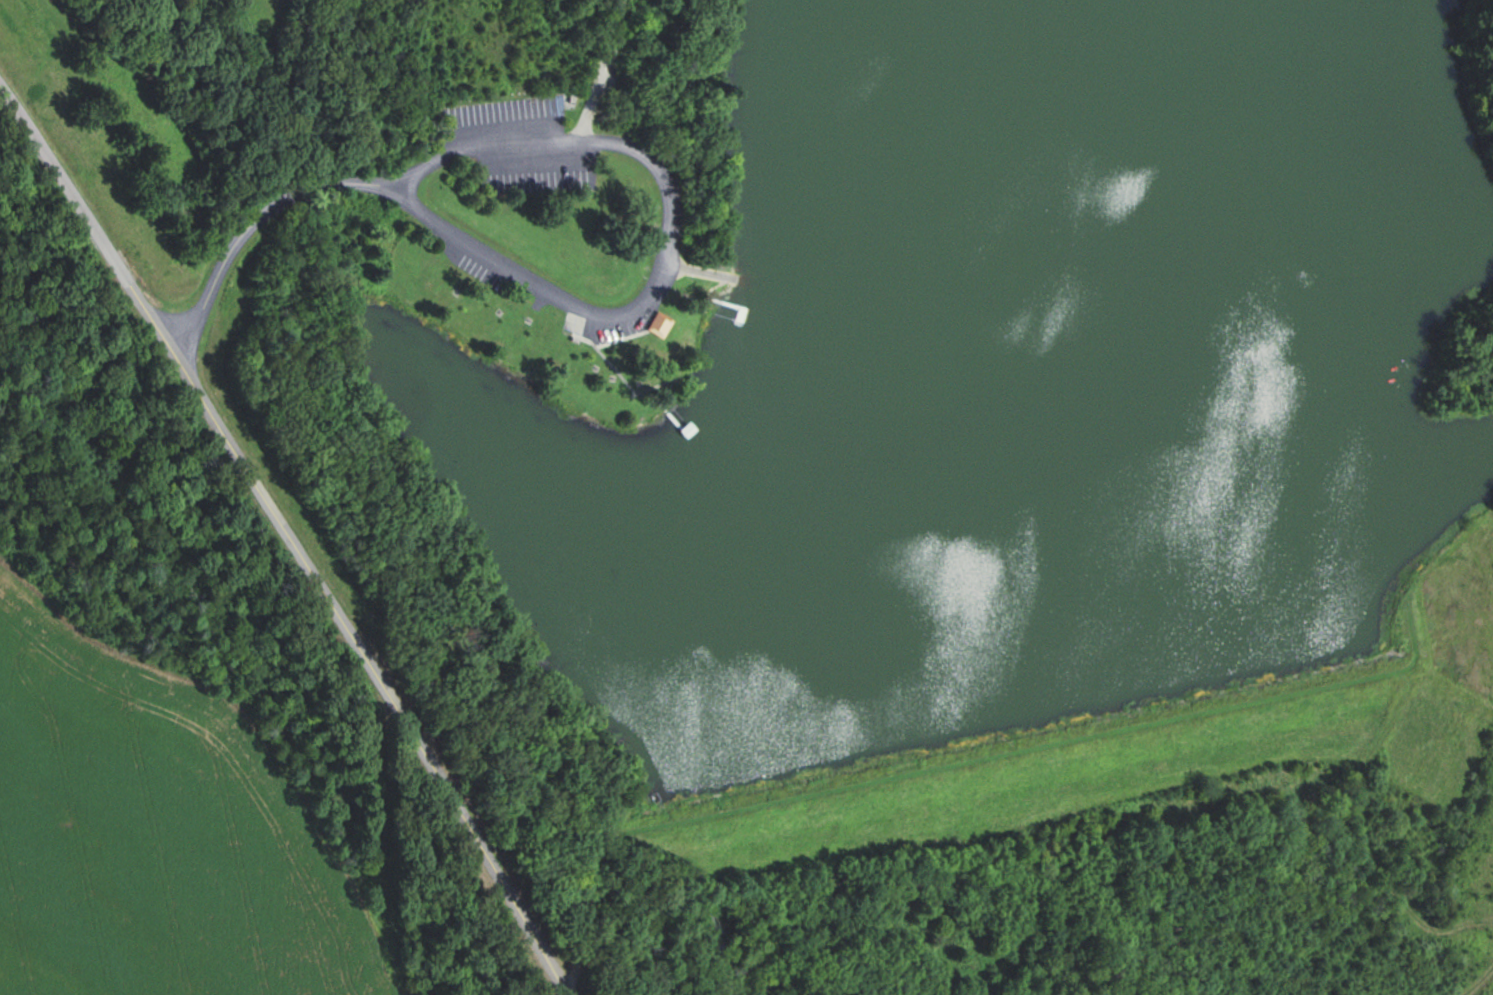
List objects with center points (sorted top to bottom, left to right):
road: (606, 142)
parking lot: (522, 155)
road: (404, 203)
road: (85, 218)
building: (658, 324)
road: (372, 669)
dam: (1140, 750)

